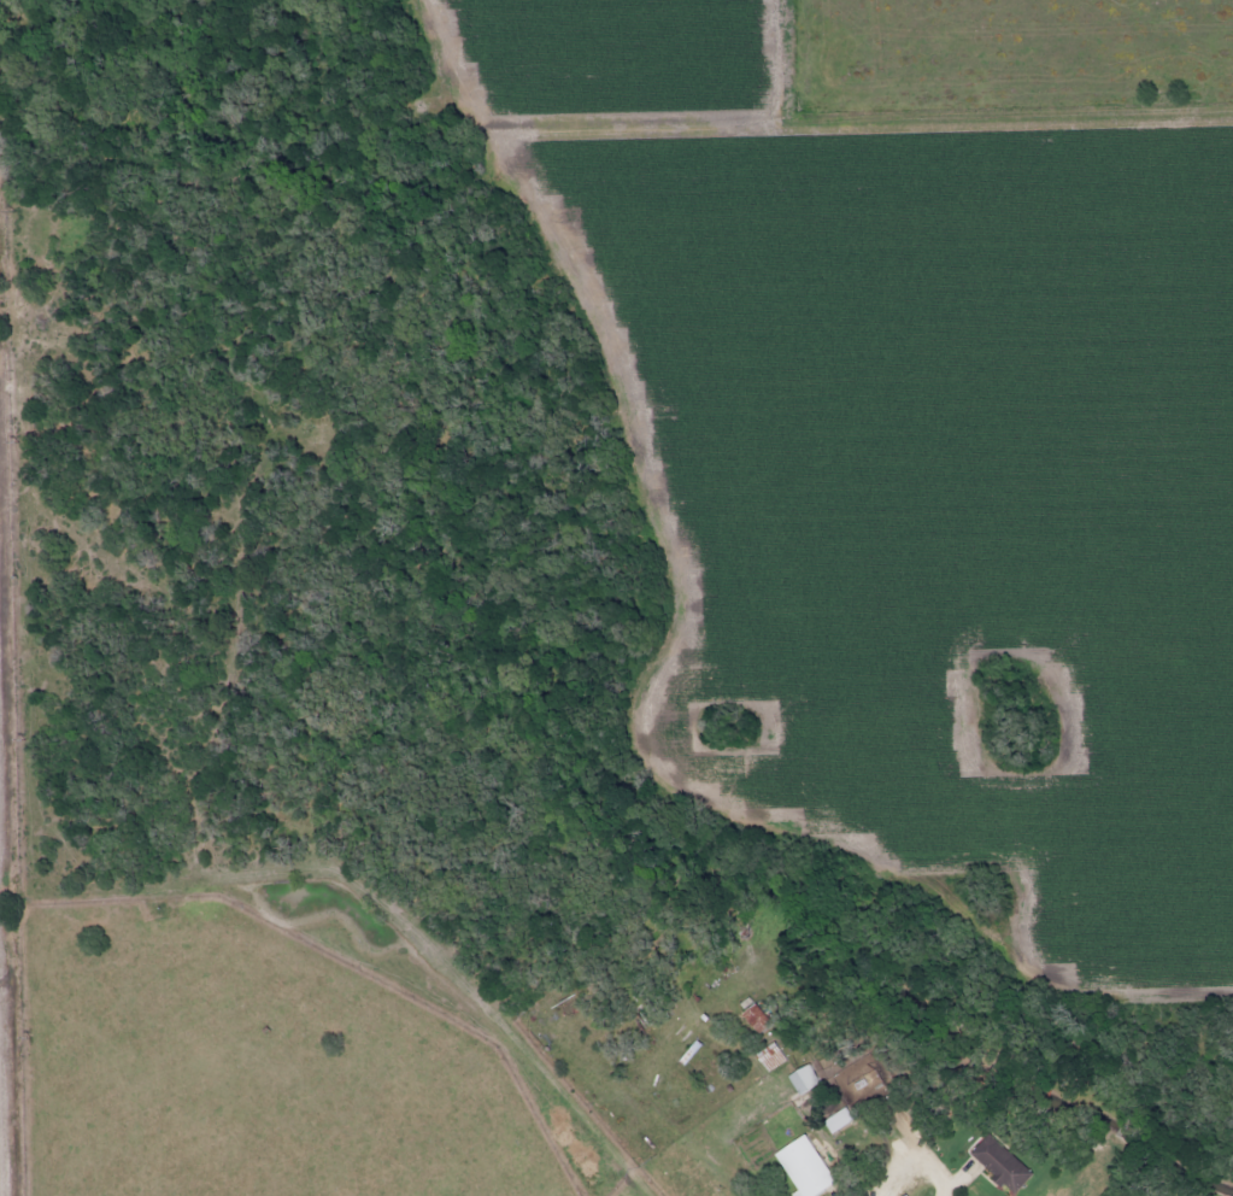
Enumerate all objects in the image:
building: (798, 1078)
building: (996, 1162)
building: (800, 1167)

